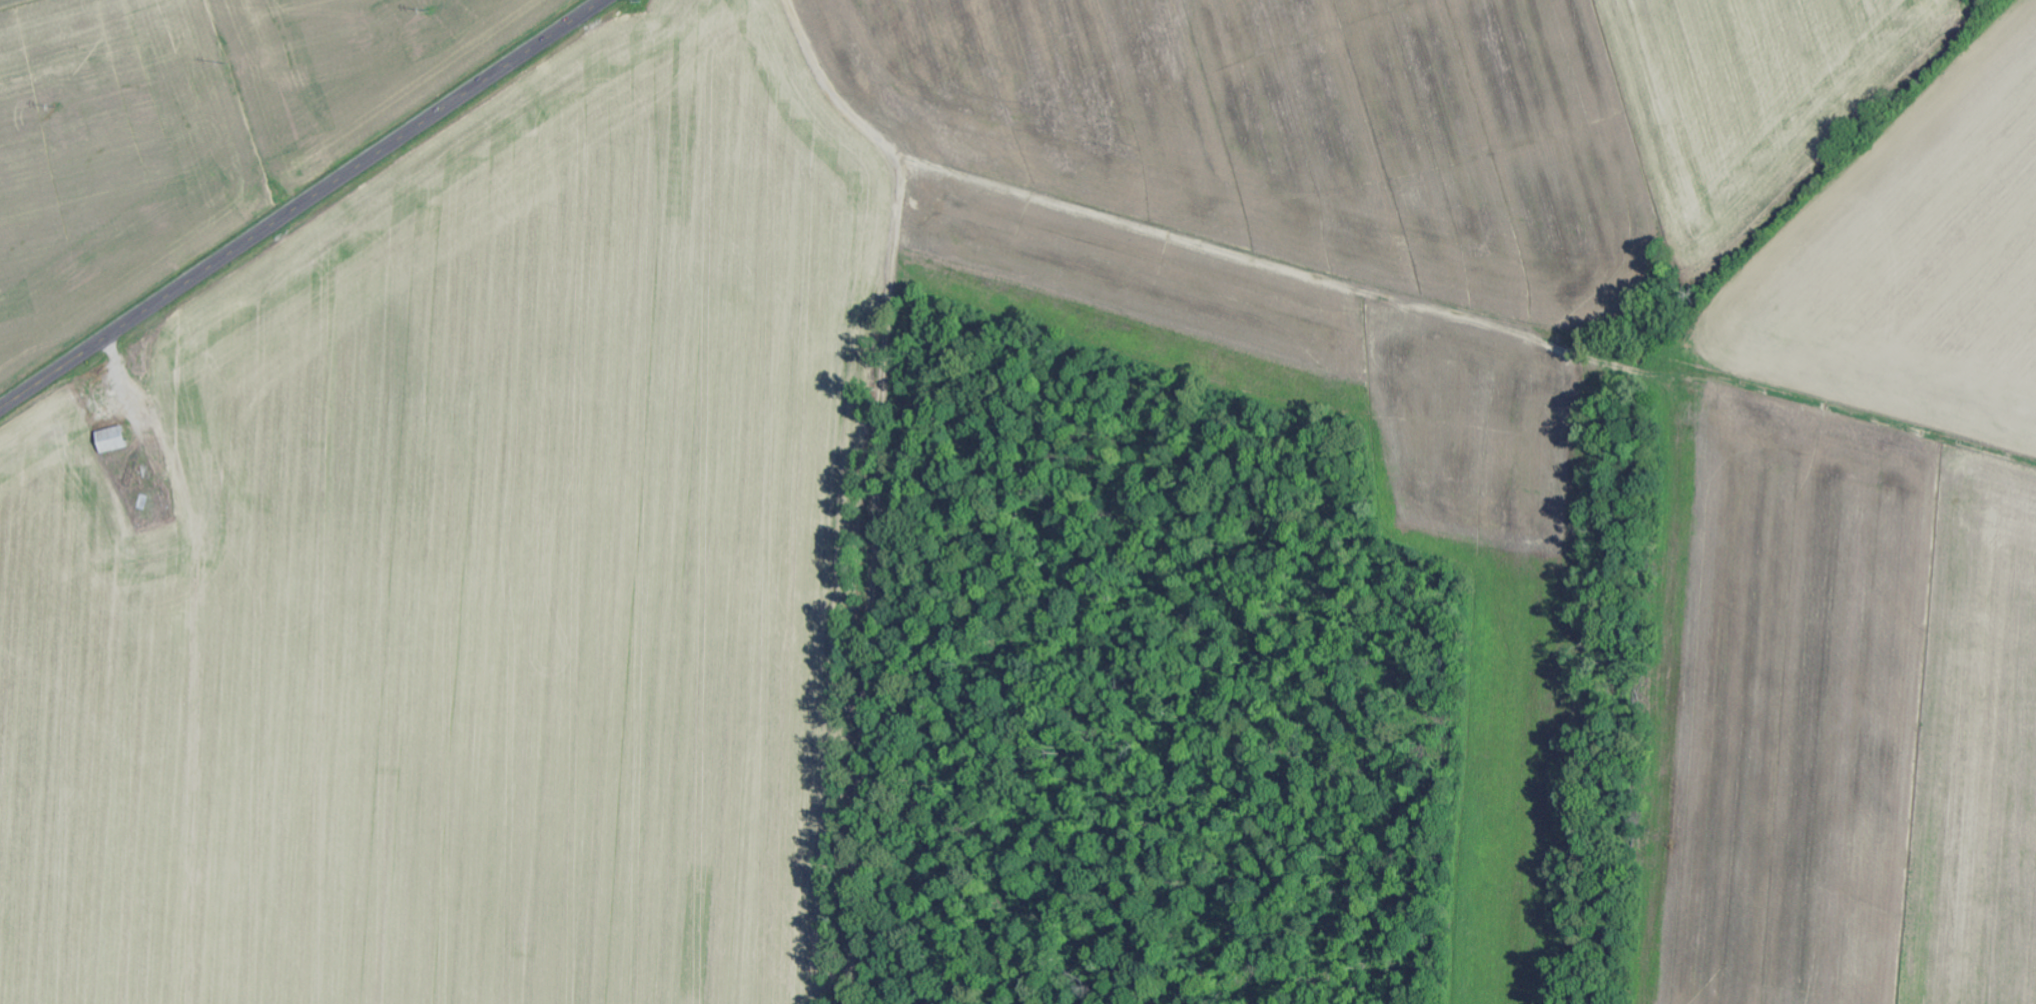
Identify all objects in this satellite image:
road: (301, 203)
building: (113, 440)

